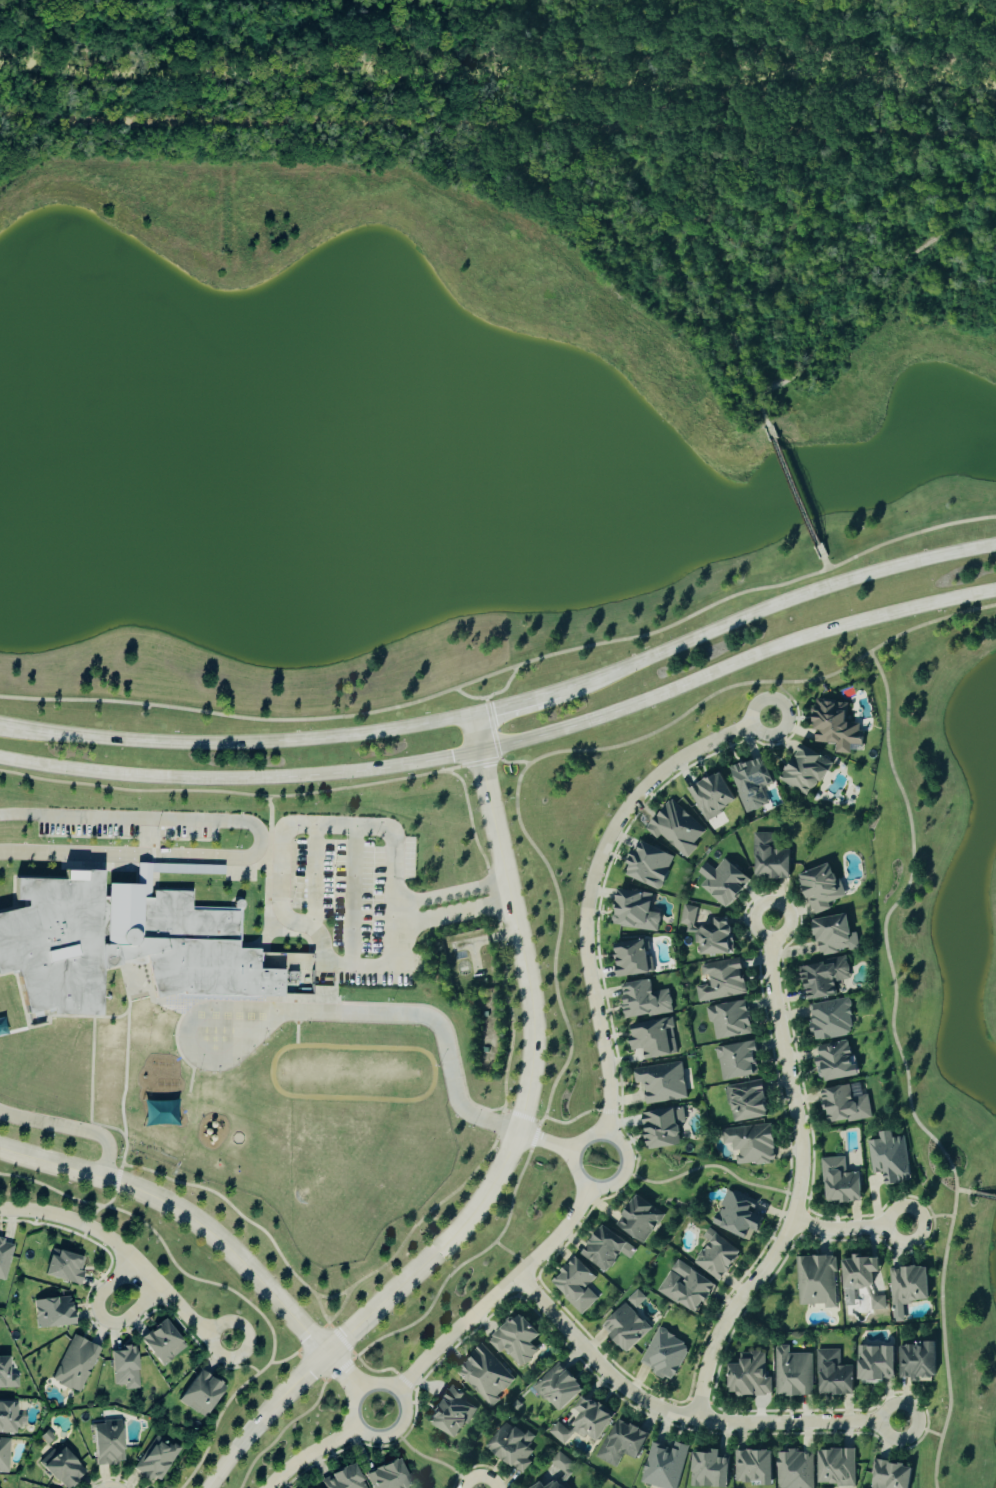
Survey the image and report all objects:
river: (498, 76)
road: (332, 126)
road: (667, 128)
road: (795, 492)
road: (909, 537)
road: (765, 611)
road: (760, 681)
road: (489, 695)
road: (432, 698)
road: (788, 700)
road: (507, 707)
building: (835, 726)
road: (491, 727)
road: (236, 745)
road: (508, 746)
road: (485, 761)
building: (805, 771)
building: (751, 783)
road: (221, 791)
building: (712, 796)
road: (20, 815)
parking lot: (128, 829)
building: (675, 829)
road: (288, 830)
road: (473, 834)
road: (254, 858)
building: (769, 858)
building: (649, 865)
road: (316, 882)
building: (723, 882)
road: (593, 884)
building: (820, 888)
road: (354, 898)
parking lot: (359, 902)
building: (635, 911)
road: (455, 917)
building: (708, 933)
building: (835, 935)
road: (484, 938)
building: (122, 940)
building: (630, 958)
road: (474, 959)
building: (823, 978)
building: (721, 981)
road: (102, 994)
building: (644, 1000)
road: (510, 1009)
building: (830, 1019)
building: (729, 1020)
road: (434, 1024)
park: (144, 1032)
building: (652, 1038)
road: (192, 1047)
building: (737, 1061)
building: (836, 1061)
road: (905, 1068)
track: (354, 1075)
road: (124, 1079)
building: (662, 1082)
road: (548, 1099)
building: (747, 1101)
building: (844, 1106)
road: (523, 1116)
road: (576, 1117)
building: (663, 1129)
road: (74, 1131)
road: (546, 1143)
building: (750, 1144)
road: (510, 1154)
park: (355, 1156)
building: (891, 1158)
road: (580, 1181)
road: (802, 1182)
building: (840, 1182)
road: (965, 1192)
road: (985, 1196)
road: (217, 1197)
road: (111, 1200)
road: (187, 1214)
building: (737, 1215)
road: (928, 1217)
building: (639, 1219)
road: (850, 1228)
road: (162, 1242)
building: (606, 1249)
road: (127, 1254)
road: (512, 1254)
building: (717, 1256)
building: (4, 1259)
building: (64, 1268)
building: (860, 1274)
building: (817, 1281)
building: (575, 1285)
building: (686, 1288)
building: (908, 1289)
road: (499, 1294)
building: (634, 1300)
building: (877, 1303)
building: (53, 1313)
road: (105, 1318)
road: (331, 1319)
building: (625, 1328)
building: (516, 1340)
building: (162, 1344)
road: (301, 1348)
building: (664, 1355)
road: (362, 1362)
building: (917, 1362)
building: (75, 1365)
building: (875, 1365)
road: (234, 1367)
building: (124, 1368)
road: (310, 1368)
building: (792, 1373)
road: (345, 1374)
building: (833, 1374)
building: (6, 1376)
building: (485, 1376)
building: (749, 1376)
building: (558, 1388)
building: (201, 1395)
building: (451, 1414)
road: (683, 1414)
building: (10, 1419)
road: (217, 1419)
building: (584, 1423)
road: (287, 1425)
road: (921, 1428)
road: (363, 1433)
building: (622, 1443)
building: (107, 1444)
building: (511, 1447)
road: (312, 1454)
building: (4, 1456)
building: (156, 1459)
building: (561, 1465)
building: (663, 1466)
building: (753, 1467)
building: (62, 1468)
building: (836, 1468)
building: (708, 1470)
building: (794, 1470)
building: (890, 1475)
building: (388, 1476)
building: (343, 1479)
building: (551, 1483)

